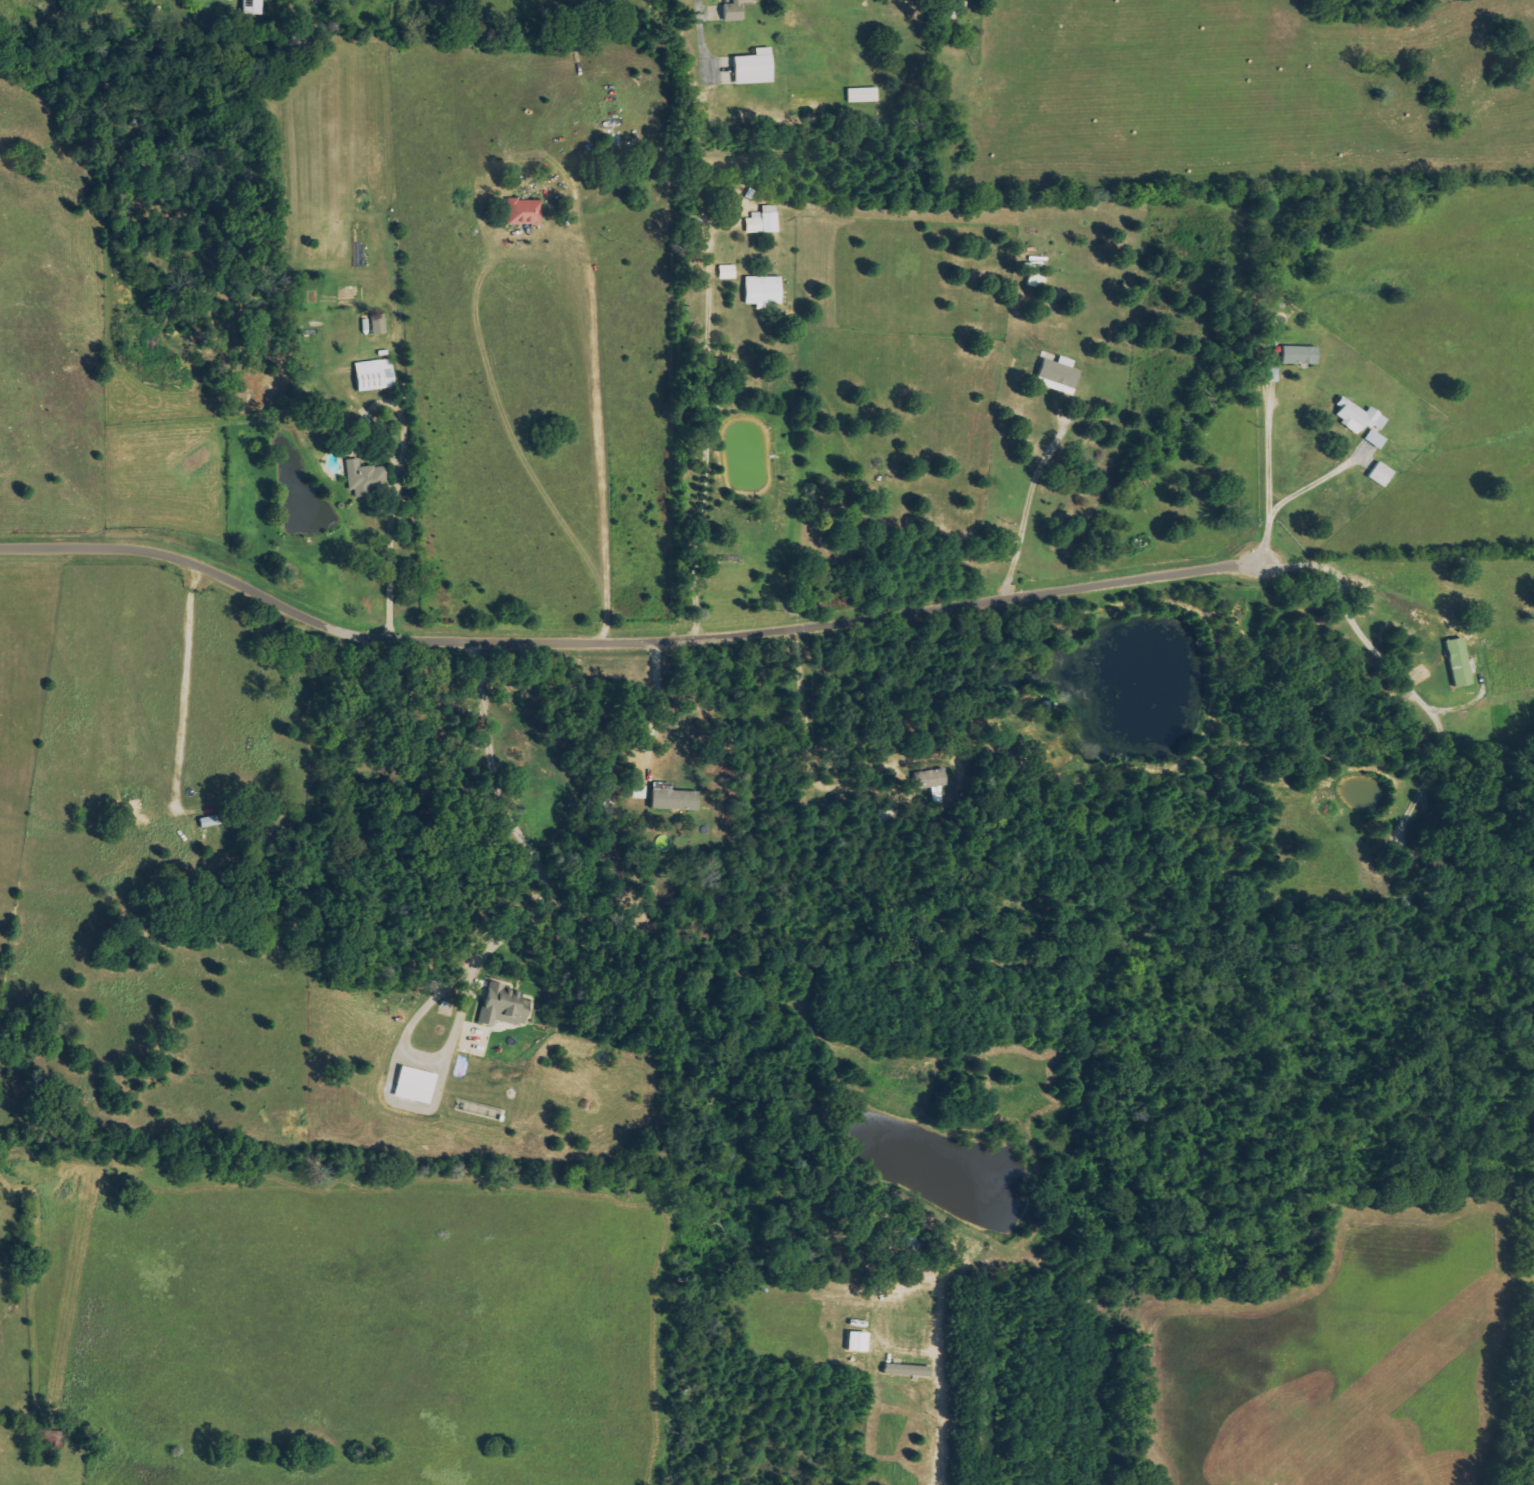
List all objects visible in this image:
building: (252, 7)
building: (734, 11)
road: (710, 33)
building: (754, 68)
building: (862, 95)
building: (525, 212)
building: (763, 221)
building: (727, 272)
building: (1037, 279)
building: (763, 291)
building: (378, 324)
building: (1300, 355)
building: (375, 374)
building: (1059, 375)
building: (1361, 421)
road: (706, 437)
road: (399, 475)
building: (365, 477)
road: (1271, 483)
road: (1317, 485)
road: (1031, 499)
road: (621, 641)
road: (1371, 645)
building: (1459, 661)
road: (185, 687)
road: (654, 704)
road: (807, 739)
building: (932, 778)
building: (675, 800)
road: (513, 825)
road: (1088, 827)
building: (503, 1006)
building: (415, 1085)
building: (859, 1342)
building: (908, 1370)

